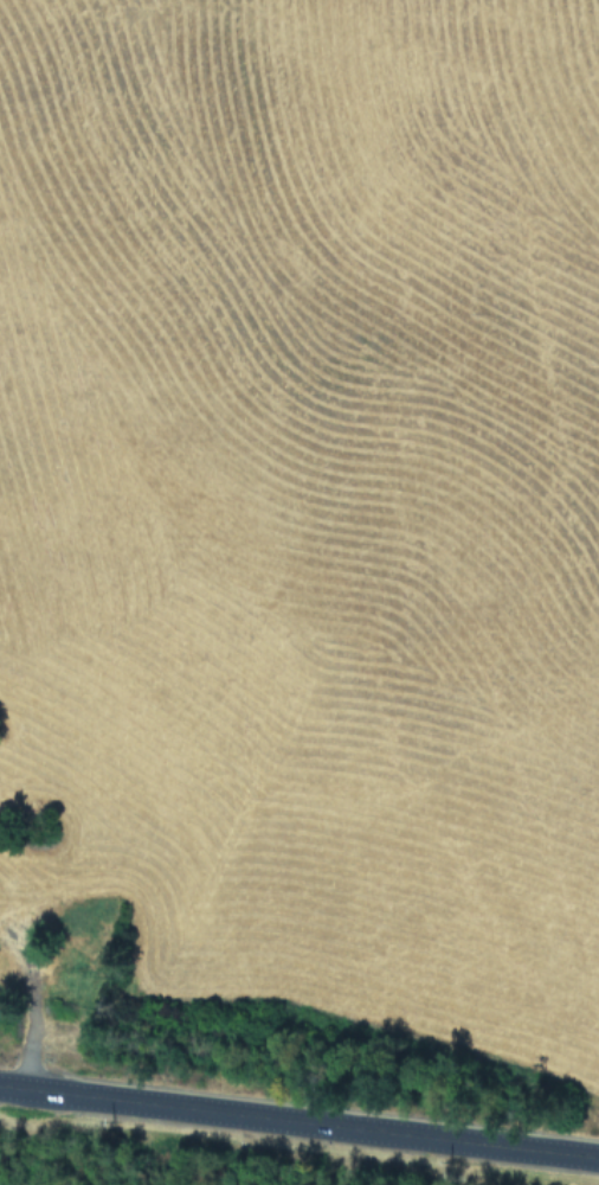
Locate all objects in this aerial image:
crop: (302, 539)
road: (299, 1116)
crop: (174, 1165)

